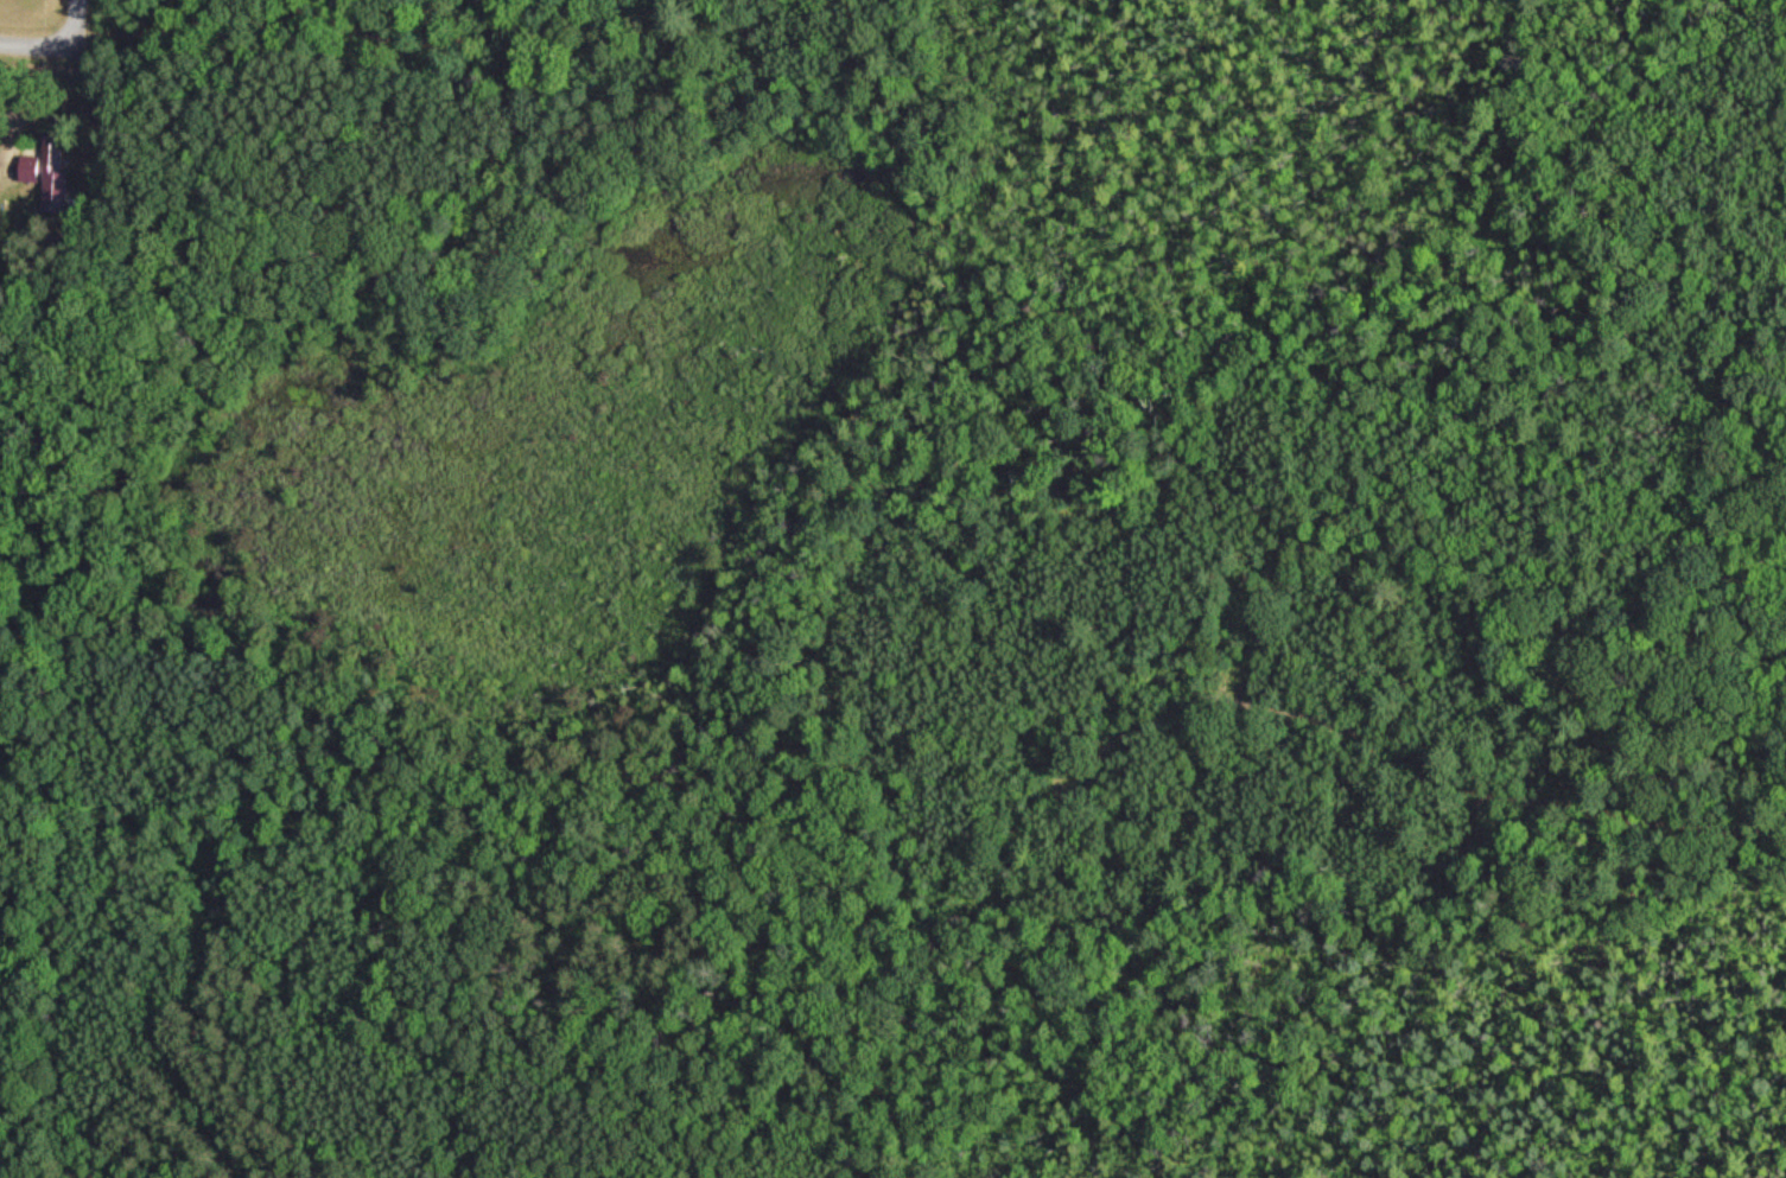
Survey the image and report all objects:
road: (78, 23)
road: (32, 46)
building: (52, 170)

